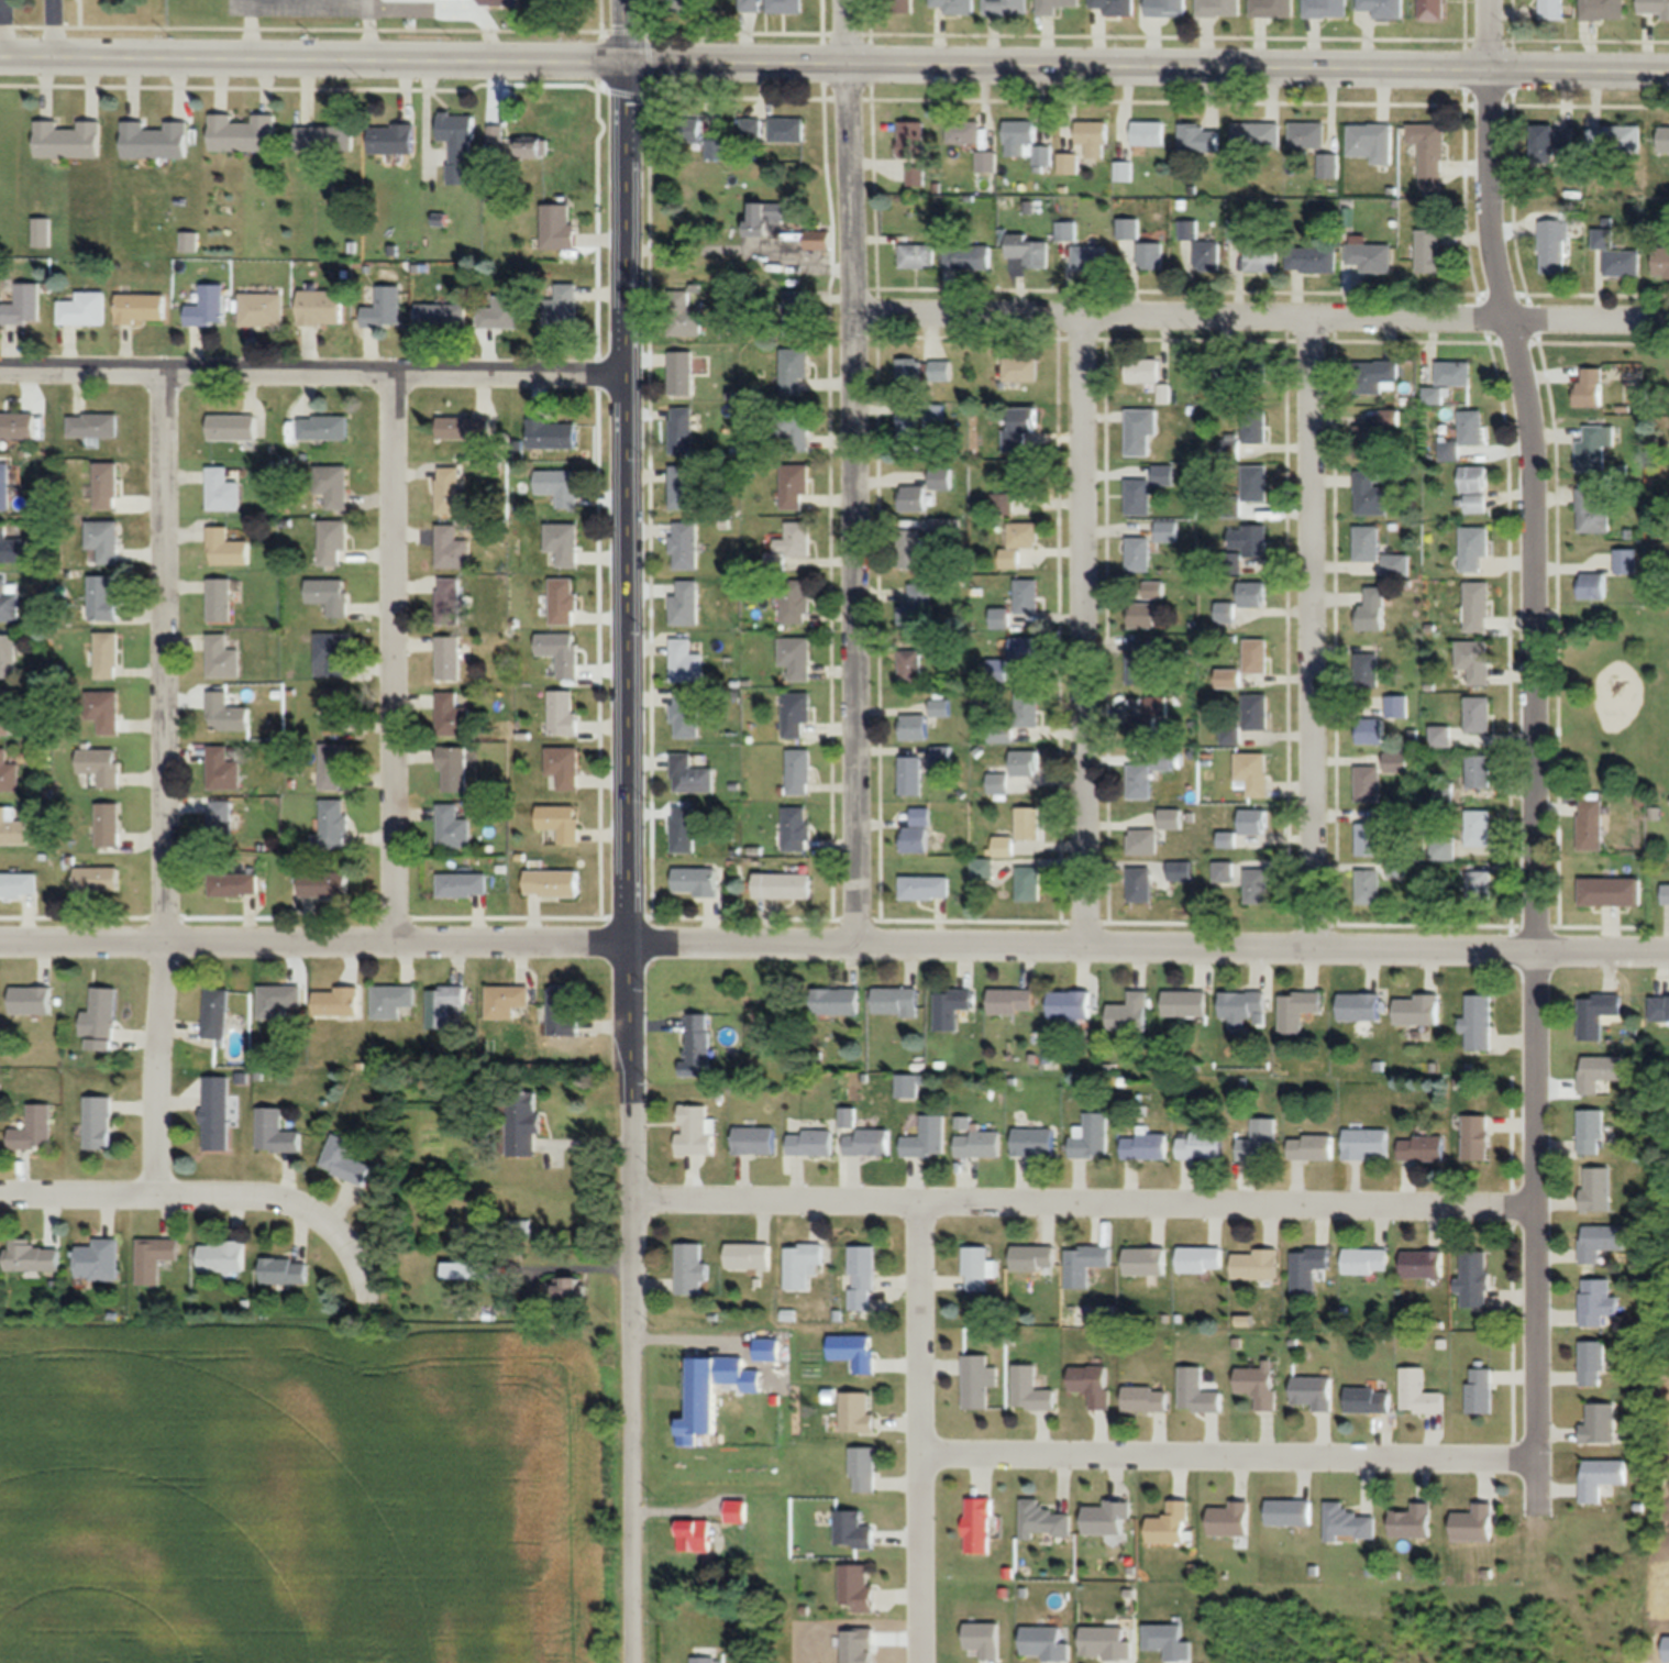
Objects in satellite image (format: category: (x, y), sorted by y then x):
building: (684, 5)
building: (747, 5)
building: (899, 5)
building: (953, 5)
building: (1052, 5)
building: (782, 7)
building: (1005, 7)
building: (1112, 7)
building: (1164, 8)
building: (1217, 8)
building: (1271, 8)
building: (1324, 8)
building: (1381, 8)
building: (1654, 8)
building: (1430, 9)
building: (1550, 9)
building: (1601, 9)
road: (645, 16)
road: (597, 18)
road: (2, 27)
road: (52, 27)
road: (245, 29)
road: (366, 30)
road: (622, 32)
road: (311, 59)
road: (1146, 66)
building: (750, 128)
building: (785, 129)
building: (683, 130)
building: (240, 132)
building: (1147, 132)
building: (1254, 133)
building: (1306, 133)
building: (322, 136)
building: (1017, 136)
building: (1196, 136)
building: (1613, 136)
building: (1093, 137)
building: (67, 139)
building: (909, 139)
building: (1662, 139)
building: (153, 140)
building: (390, 140)
building: (1550, 140)
building: (1370, 141)
building: (971, 143)
building: (456, 144)
building: (532, 146)
building: (717, 148)
building: (1428, 152)
building: (1066, 163)
building: (1327, 165)
building: (1123, 170)
building: (915, 175)
building: (764, 217)
building: (556, 225)
building: (1127, 228)
building: (1065, 229)
building: (1187, 229)
building: (1237, 230)
building: (41, 232)
building: (816, 239)
building: (1552, 245)
road: (706, 249)
building: (1026, 250)
building: (1429, 251)
building: (917, 255)
building: (1150, 255)
building: (1207, 255)
building: (1370, 256)
building: (966, 257)
building: (1090, 257)
building: (1261, 258)
building: (1311, 260)
building: (1661, 261)
building: (1622, 262)
building: (23, 306)
building: (561, 306)
building: (207, 307)
building: (319, 307)
building: (382, 307)
building: (140, 308)
building: (259, 308)
building: (84, 309)
building: (501, 313)
building: (795, 313)
building: (440, 315)
building: (683, 315)
road: (1260, 315)
building: (1020, 368)
building: (793, 370)
building: (1141, 370)
building: (924, 371)
building: (681, 372)
building: (1233, 374)
building: (1375, 375)
road: (311, 378)
building: (1448, 381)
building: (1588, 386)
building: (18, 426)
building: (92, 426)
building: (321, 427)
building: (463, 427)
building: (1017, 427)
building: (1472, 427)
building: (231, 428)
building: (795, 428)
building: (681, 430)
building: (1139, 430)
building: (1253, 431)
building: (907, 432)
building: (551, 433)
building: (1368, 441)
building: (1594, 447)
road: (852, 471)
building: (940, 477)
building: (1473, 477)
building: (1026, 481)
building: (1253, 482)
building: (332, 485)
building: (559, 485)
building: (794, 485)
building: (106, 486)
building: (4, 487)
building: (684, 487)
building: (221, 489)
building: (447, 489)
building: (1146, 489)
building: (1369, 494)
building: (913, 497)
building: (1477, 502)
building: (1003, 503)
building: (1593, 509)
building: (1167, 530)
building: (794, 539)
building: (1249, 539)
building: (103, 540)
building: (332, 542)
building: (562, 542)
building: (1018, 542)
building: (1367, 542)
building: (684, 544)
building: (450, 547)
building: (12, 548)
building: (224, 548)
building: (910, 548)
building: (1474, 548)
building: (1138, 552)
building: (1626, 560)
building: (1396, 563)
building: (1592, 585)
building: (1153, 590)
building: (1252, 593)
building: (331, 595)
building: (1027, 596)
building: (102, 597)
building: (219, 599)
building: (9, 601)
building: (447, 601)
building: (563, 601)
building: (795, 601)
building: (685, 603)
building: (1477, 606)
building: (916, 607)
building: (1372, 609)
building: (1141, 614)
building: (999, 618)
road: (1082, 629)
road: (1312, 631)
building: (1024, 649)
building: (560, 651)
building: (334, 653)
building: (8, 654)
building: (107, 654)
building: (795, 656)
building: (1256, 656)
building: (222, 657)
building: (447, 658)
building: (1474, 660)
building: (685, 661)
building: (1138, 661)
road: (393, 663)
building: (910, 664)
building: (1368, 669)
building: (1228, 678)
park: (1615, 696)
building: (1396, 705)
building: (1027, 709)
building: (103, 711)
building: (335, 711)
building: (1254, 711)
building: (4, 712)
building: (562, 712)
building: (225, 713)
road: (1533, 713)
building: (795, 714)
building: (1478, 714)
building: (685, 715)
building: (451, 716)
building: (1148, 719)
building: (913, 726)
building: (1370, 730)
building: (1230, 735)
building: (1440, 736)
building: (941, 756)
building: (1396, 761)
building: (1024, 762)
building: (333, 766)
building: (563, 766)
building: (223, 768)
building: (104, 769)
building: (452, 770)
building: (1478, 770)
building: (798, 771)
building: (1251, 772)
building: (8, 773)
building: (689, 774)
building: (909, 774)
building: (1139, 780)
building: (998, 782)
building: (1368, 783)
road: (166, 791)
building: (1170, 817)
building: (220, 819)
building: (1253, 821)
building: (560, 822)
building: (1028, 823)
building: (333, 824)
building: (1591, 824)
building: (108, 825)
building: (12, 827)
building: (452, 827)
building: (1479, 827)
building: (683, 828)
building: (794, 828)
building: (916, 831)
building: (1368, 838)
building: (1227, 839)
building: (1142, 840)
building: (1003, 846)
road: (626, 863)
building: (983, 869)
building: (1180, 870)
building: (1223, 870)
building: (97, 881)
building: (695, 881)
building: (551, 883)
building: (1028, 883)
building: (18, 884)
building: (233, 884)
building: (323, 884)
building: (462, 884)
building: (782, 884)
building: (1139, 884)
building: (1257, 885)
building: (1368, 885)
building: (1479, 885)
building: (924, 886)
building: (1611, 891)
building: (1666, 894)
road: (833, 943)
building: (31, 1000)
building: (335, 1000)
building: (391, 1000)
building: (505, 1000)
building: (836, 1000)
building: (895, 1001)
building: (1010, 1001)
building: (279, 1002)
building: (1184, 1003)
building: (444, 1004)
building: (1069, 1004)
building: (1242, 1004)
building: (1362, 1005)
building: (950, 1006)
building: (1659, 1007)
building: (1297, 1009)
building: (1417, 1009)
building: (562, 1010)
building: (1129, 1012)
building: (1596, 1012)
building: (215, 1014)
building: (101, 1018)
building: (1478, 1022)
building: (698, 1046)
building: (1600, 1071)
building: (215, 1113)
building: (98, 1122)
building: (521, 1124)
building: (33, 1130)
building: (695, 1130)
building: (1592, 1131)
building: (275, 1132)
building: (1090, 1136)
building: (1477, 1136)
building: (926, 1137)
building: (754, 1139)
building: (1259, 1139)
building: (810, 1141)
building: (866, 1142)
building: (1032, 1142)
building: (1366, 1143)
building: (977, 1144)
building: (1200, 1144)
building: (1145, 1145)
building: (1311, 1146)
building: (1422, 1147)
building: (344, 1160)
building: (1596, 1189)
road: (214, 1204)
road: (1083, 1208)
building: (1601, 1241)
building: (748, 1254)
building: (30, 1256)
building: (222, 1256)
building: (155, 1257)
building: (1032, 1258)
building: (1200, 1258)
building: (98, 1259)
building: (1145, 1260)
building: (1367, 1260)
building: (1084, 1263)
building: (1256, 1263)
building: (1422, 1263)
building: (802, 1265)
building: (976, 1267)
building: (1307, 1267)
building: (692, 1268)
building: (284, 1270)
building: (469, 1270)
building: (861, 1278)
building: (1474, 1278)
building: (567, 1288)
building: (1596, 1300)
building: (854, 1351)
building: (1592, 1363)
building: (977, 1380)
building: (1091, 1384)
building: (1259, 1384)
building: (1030, 1389)
building: (1480, 1389)
building: (1196, 1390)
building: (709, 1391)
building: (1314, 1391)
building: (1418, 1392)
building: (1143, 1398)
building: (1368, 1399)
building: (856, 1411)
crop: (1662, 1418)
building: (1599, 1422)
road: (921, 1434)
road: (1537, 1444)
road: (1229, 1455)
building: (863, 1468)
building: (1600, 1477)
road: (1536, 1488)
crop: (312, 1494)
building: (737, 1511)
building: (1289, 1511)
building: (1105, 1516)
building: (1228, 1519)
building: (1042, 1520)
building: (1411, 1521)
building: (1171, 1523)
building: (1348, 1523)
building: (1474, 1523)
building: (977, 1524)
building: (695, 1534)
building: (856, 1587)
building: (1044, 1643)
building: (1106, 1643)
building: (705, 1660)

